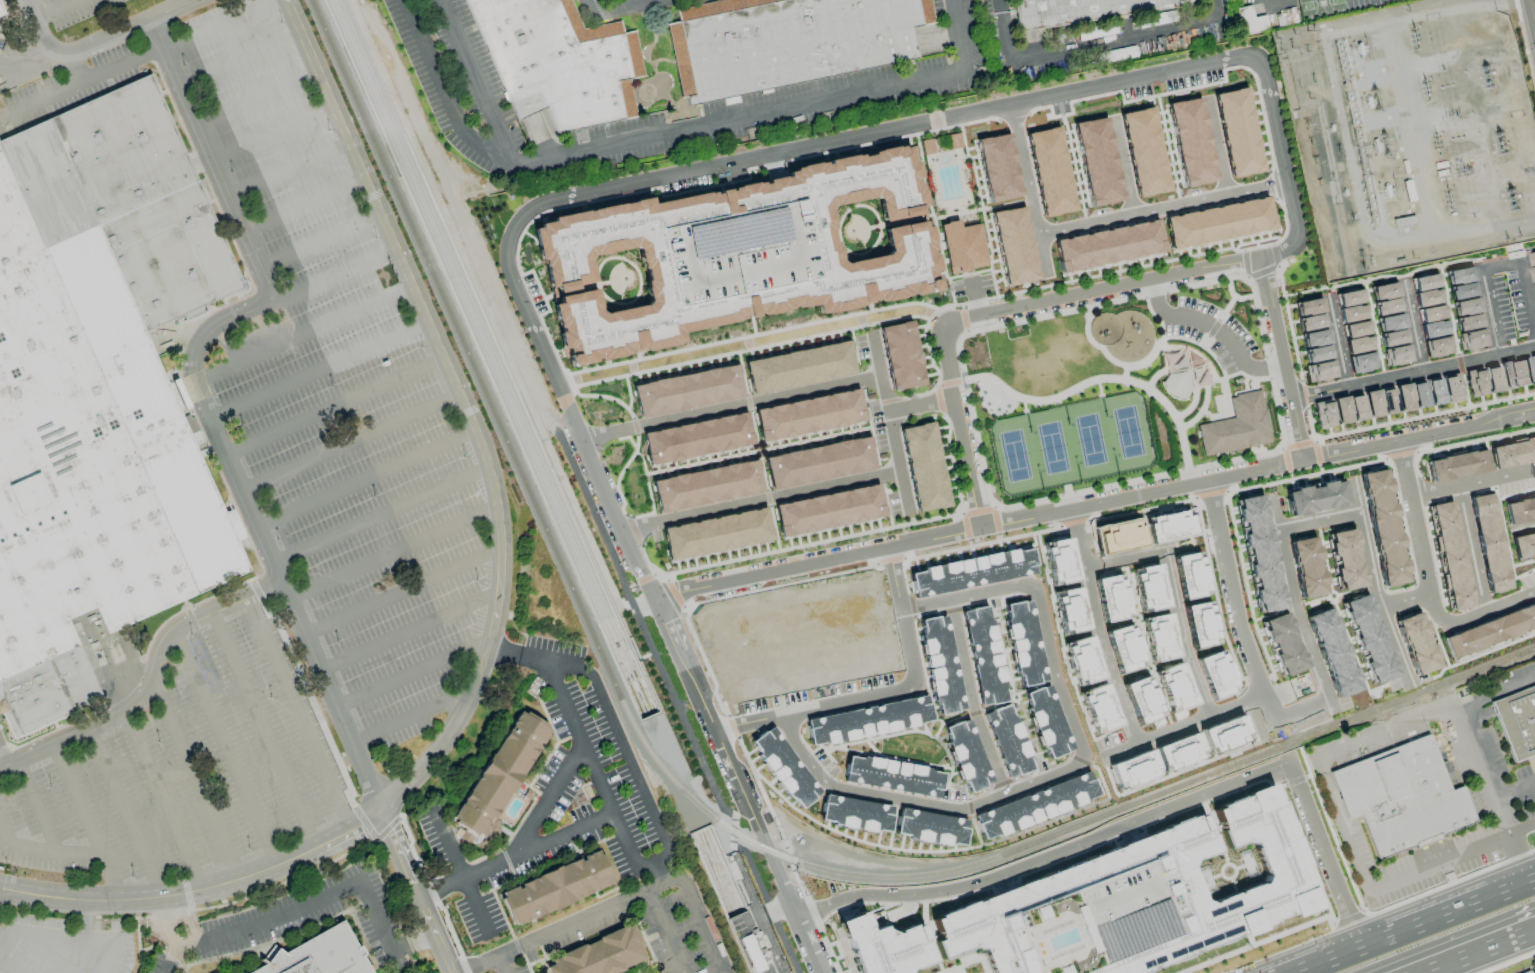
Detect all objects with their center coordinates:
road: (632, 2)
road: (1278, 3)
road: (999, 5)
park: (1319, 6)
road: (620, 7)
road: (590, 8)
building: (1090, 10)
road: (59, 11)
building: (1, 13)
road: (1530, 19)
building: (1249, 21)
road: (224, 27)
road: (959, 36)
road: (99, 40)
building: (793, 43)
road: (1096, 44)
building: (564, 62)
road: (241, 64)
road: (71, 69)
road: (473, 82)
road: (81, 84)
road: (1065, 92)
road: (443, 93)
road: (256, 99)
road: (738, 121)
building: (1238, 132)
power substation: (1413, 133)
road: (272, 136)
building: (1191, 142)
building: (927, 146)
road: (1215, 148)
building: (1143, 150)
building: (1096, 161)
building: (997, 167)
road: (1122, 169)
building: (1050, 171)
road: (288, 172)
road: (921, 177)
road: (737, 180)
road: (304, 207)
road: (1098, 220)
building: (1219, 221)
road: (891, 223)
road: (935, 225)
road: (838, 233)
road: (319, 243)
building: (961, 244)
building: (1108, 244)
building: (1013, 245)
building: (1532, 258)
building: (739, 259)
road: (1496, 268)
building: (1533, 273)
building: (1459, 275)
road: (638, 276)
road: (955, 276)
road: (329, 281)
building: (1424, 282)
road: (585, 287)
road: (1043, 287)
building: (1462, 290)
building: (1383, 292)
road: (1233, 296)
building: (1426, 297)
building: (1350, 299)
building: (1308, 306)
building: (1465, 306)
building: (1386, 308)
road: (1003, 309)
road: (1225, 309)
building: (1430, 313)
building: (1352, 315)
building: (1310, 322)
building: (1468, 322)
building: (1390, 324)
road: (1412, 327)
road: (1212, 328)
road: (1213, 328)
building: (1433, 328)
building: (1356, 331)
road: (303, 336)
building: (1392, 339)
building: (1472, 339)
building: (1315, 340)
road: (1205, 341)
road: (1336, 343)
building: (1358, 346)
building: (1438, 347)
building: (1317, 356)
railway: (494, 357)
building: (901, 357)
road: (1199, 357)
building: (1397, 357)
railway: (484, 360)
road: (1217, 363)
building: (1361, 364)
road: (1134, 365)
building: (1533, 365)
road: (1165, 368)
building: (800, 369)
road: (319, 372)
road: (1125, 372)
building: (1524, 372)
building: (1320, 373)
road: (567, 374)
road: (880, 374)
road: (1412, 374)
building: (1508, 376)
road: (1099, 378)
building: (1492, 379)
road: (1208, 381)
building: (1475, 383)
road: (1206, 387)
road: (1253, 387)
building: (1451, 388)
road: (1245, 390)
park: (1119, 391)
building: (688, 393)
building: (1434, 393)
building: (99, 395)
building: (1418, 396)
building: (1403, 398)
road: (203, 402)
building: (1388, 404)
building: (1372, 405)
road: (732, 407)
road: (335, 408)
road: (464, 408)
building: (1356, 410)
road: (1228, 411)
building: (1341, 412)
building: (1323, 416)
building: (810, 417)
building: (1236, 427)
road: (891, 428)
park: (1127, 431)
building: (698, 440)
park: (1090, 440)
road: (351, 444)
park: (1052, 448)
road: (1278, 449)
building: (1513, 452)
park: (1013, 455)
building: (819, 465)
building: (1457, 465)
building: (924, 469)
road: (1496, 479)
road: (366, 480)
building: (708, 488)
road: (1433, 493)
building: (1315, 497)
road: (762, 500)
road: (1093, 503)
building: (1519, 509)
building: (830, 512)
road: (381, 517)
road: (1318, 521)
building: (1169, 526)
building: (1382, 526)
building: (717, 536)
building: (1119, 536)
road: (1417, 542)
building: (1488, 542)
building: (1523, 545)
building: (1259, 552)
road: (391, 555)
building: (1450, 555)
building: (1345, 558)
building: (1060, 560)
building: (1306, 566)
building: (972, 572)
building: (1189, 576)
road: (1476, 577)
road: (1371, 584)
building: (1148, 588)
road: (1230, 588)
road: (401, 593)
road: (1171, 597)
building: (1110, 598)
road: (636, 602)
building: (1069, 610)
road: (902, 616)
road: (664, 621)
road: (638, 623)
road: (1447, 623)
building: (1200, 624)
road: (1097, 628)
building: (1490, 629)
road: (408, 633)
building: (1159, 637)
building: (1368, 638)
building: (1415, 641)
building: (1025, 643)
building: (1283, 643)
road: (1306, 643)
railway: (596, 644)
road: (504, 645)
building: (1123, 648)
railway: (1526, 650)
building: (1331, 652)
road: (534, 654)
building: (983, 656)
building: (1083, 660)
building: (941, 663)
building: (1215, 674)
road: (411, 675)
road: (152, 688)
building: (1175, 689)
road: (1497, 689)
road: (971, 699)
building: (1144, 701)
road: (813, 706)
building: (1099, 708)
road: (299, 716)
road: (410, 718)
building: (867, 720)
road: (938, 720)
railway: (1347, 720)
building: (1048, 721)
building: (1518, 725)
road: (1184, 726)
road: (919, 731)
road: (263, 733)
building: (1224, 734)
building: (1007, 740)
road: (622, 744)
road: (837, 748)
building: (1179, 751)
road: (225, 752)
building: (967, 755)
road: (934, 765)
road: (1068, 768)
building: (1133, 768)
building: (893, 775)
building: (498, 778)
road: (196, 784)
road: (601, 787)
road: (1516, 790)
road: (1494, 792)
road: (549, 796)
building: (803, 796)
building: (1409, 799)
road: (163, 804)
building: (1035, 805)
road: (768, 808)
road: (37, 809)
building: (855, 814)
road: (126, 816)
road: (1138, 818)
road: (892, 823)
road: (86, 825)
road: (974, 827)
building: (930, 828)
road: (732, 830)
road: (5, 835)
road: (1347, 836)
road: (920, 850)
road: (513, 853)
road: (50, 854)
road: (789, 858)
road: (284, 864)
railway: (721, 870)
railway: (715, 872)
road: (460, 874)
railway: (710, 875)
road: (1449, 883)
building: (555, 887)
road: (414, 892)
road: (637, 894)
building: (1109, 901)
road: (90, 903)
road: (768, 907)
road: (777, 909)
road: (278, 912)
road: (1348, 918)
road: (816, 920)
road: (1414, 926)
road: (84, 927)
road: (662, 932)
road: (34, 936)
road: (1505, 940)
road: (1259, 942)
building: (751, 953)
building: (598, 954)
road: (172, 955)
building: (317, 955)
road: (88, 960)
road: (1447, 962)
road: (1507, 962)
road: (476, 963)
road: (502, 963)
road: (13, 964)
building: (1530, 971)

